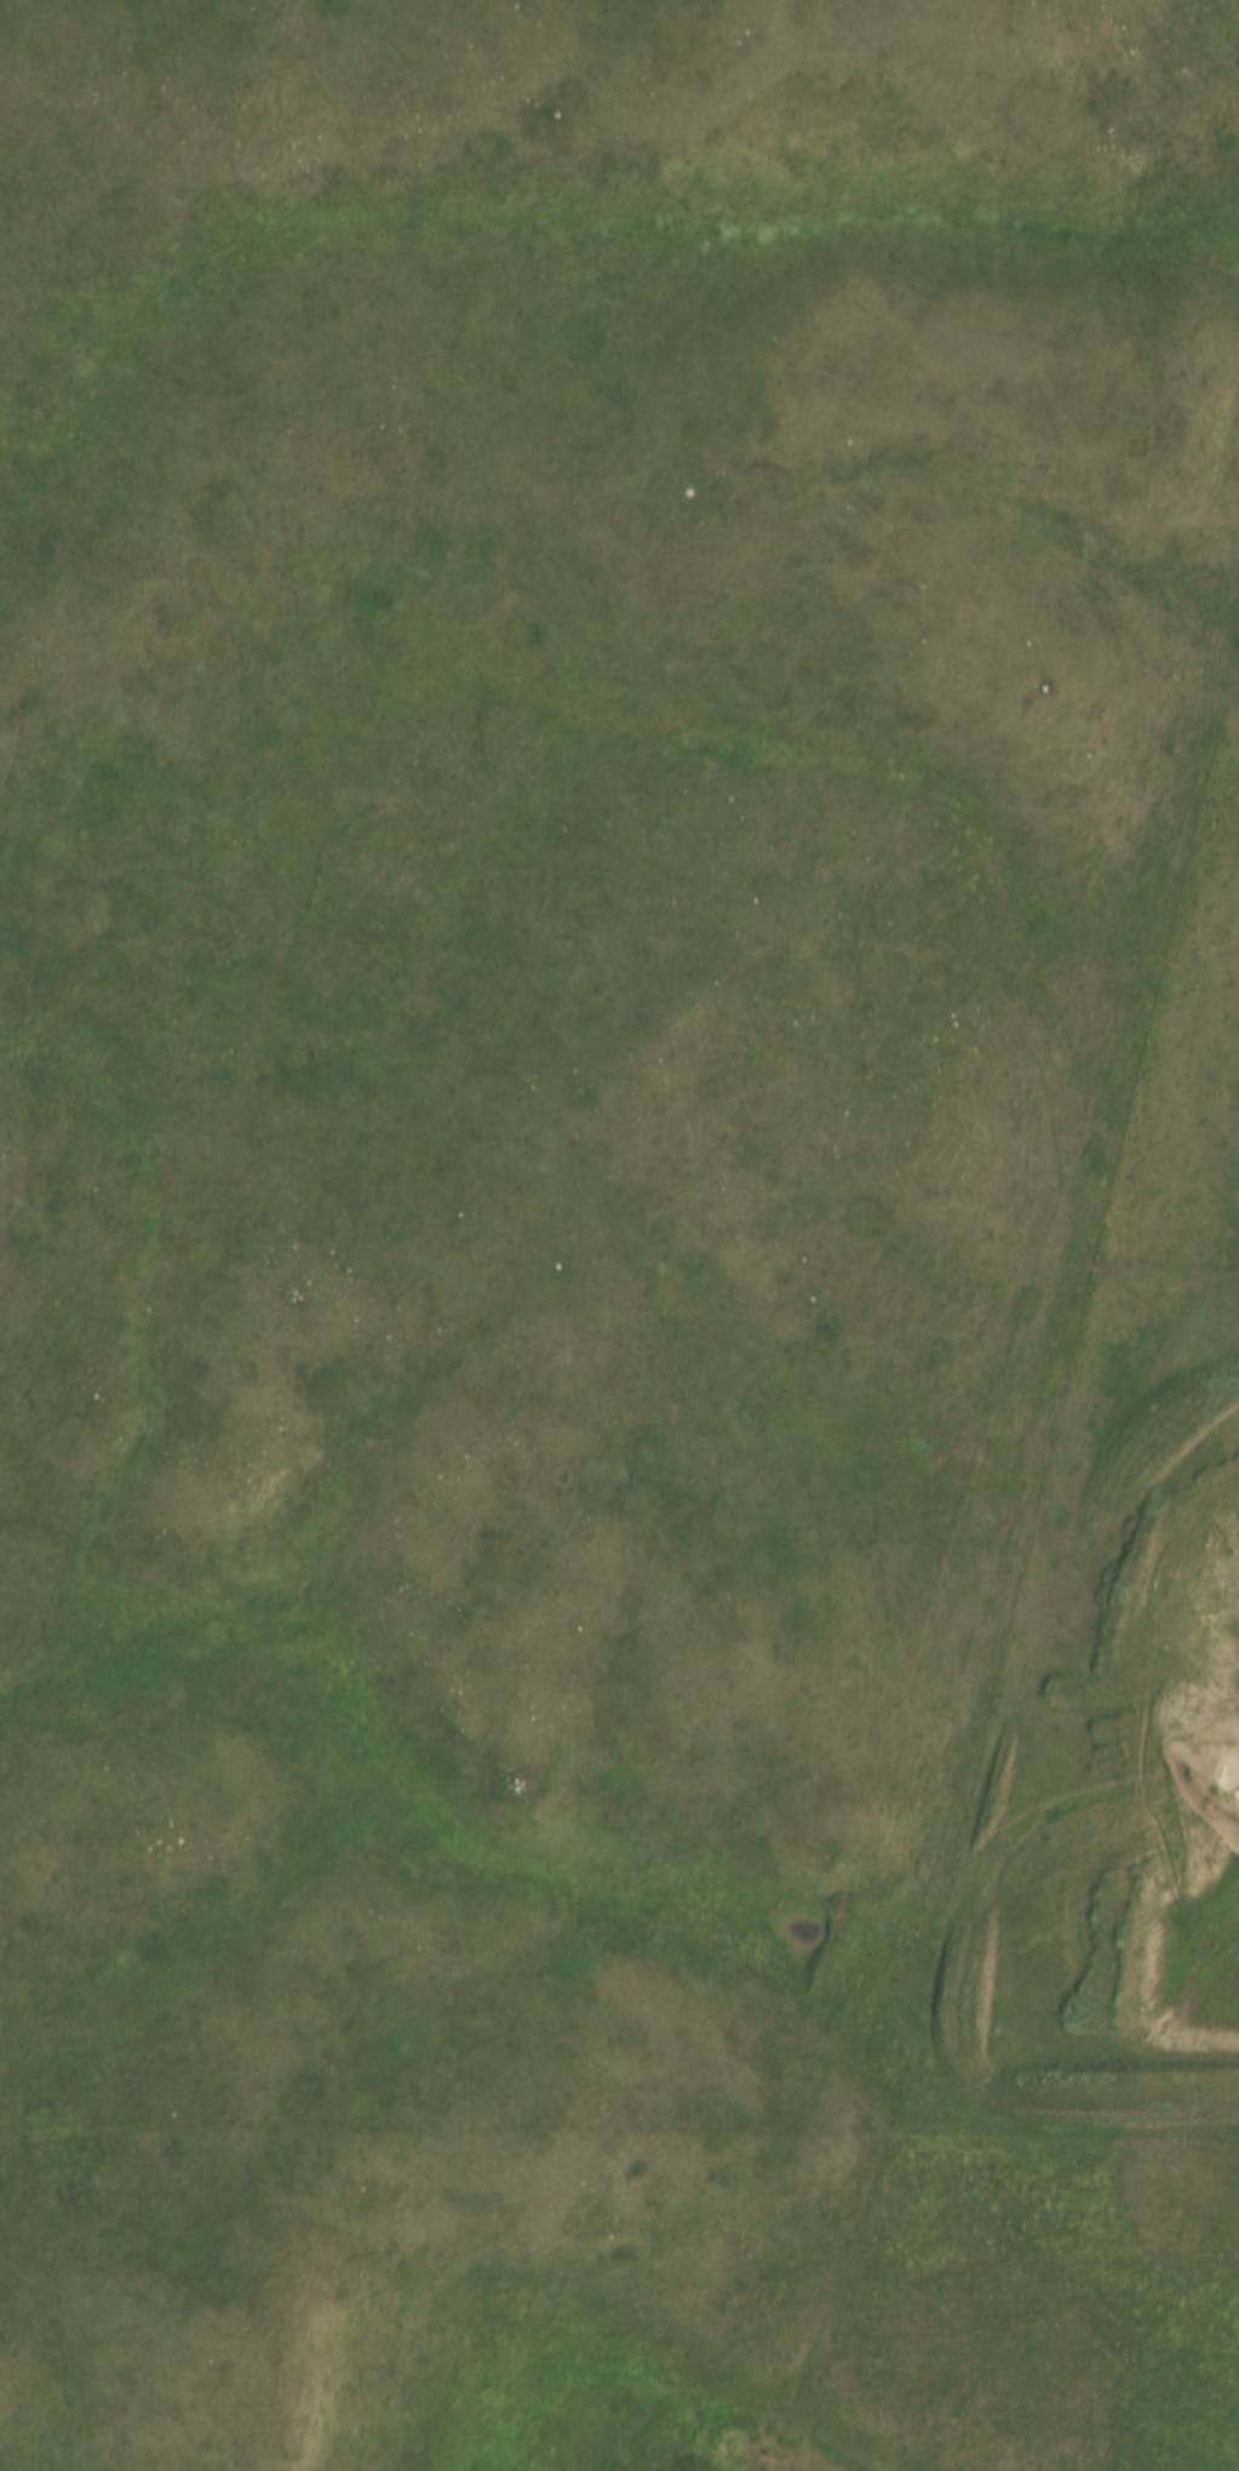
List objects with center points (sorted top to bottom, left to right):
quarry: (1103, 1754)

